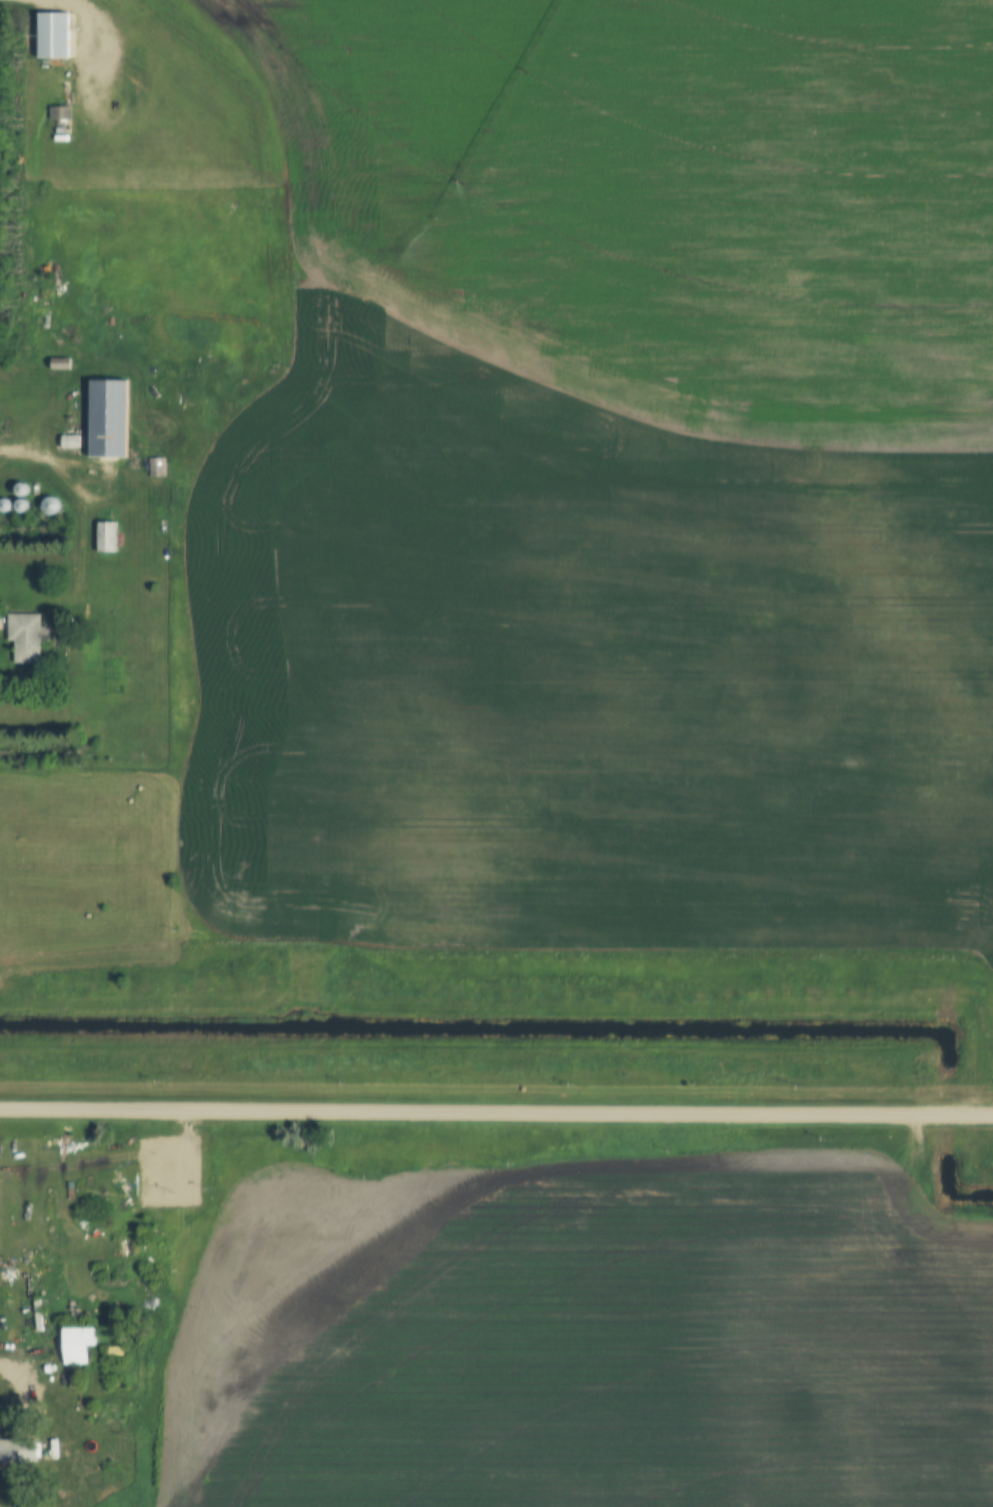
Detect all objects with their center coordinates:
building: (55, 37)
road: (98, 48)
building: (108, 420)
building: (24, 508)
building: (50, 511)
building: (106, 538)
building: (27, 637)
road: (496, 1113)
building: (159, 1163)
power substation: (166, 1172)
building: (76, 1346)
building: (116, 1353)
road: (20, 1376)
building: (19, 1452)

